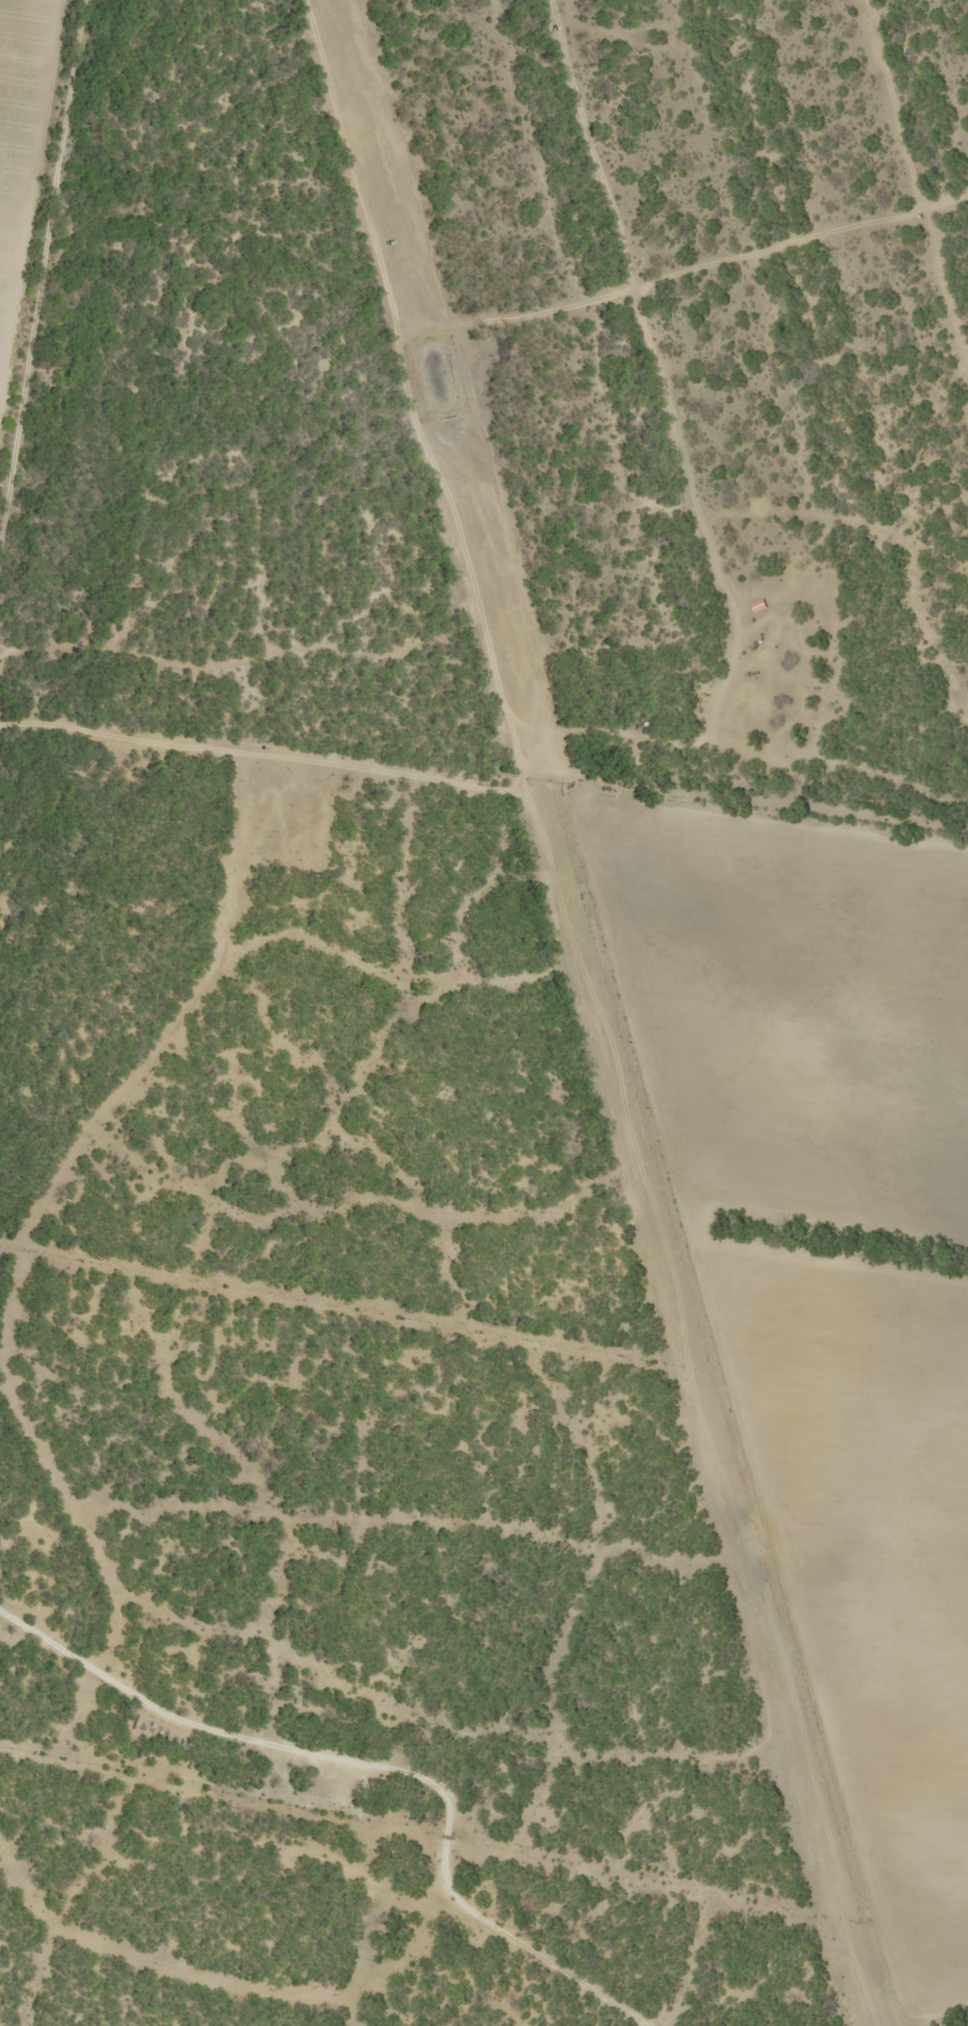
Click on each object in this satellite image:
building: (759, 606)

